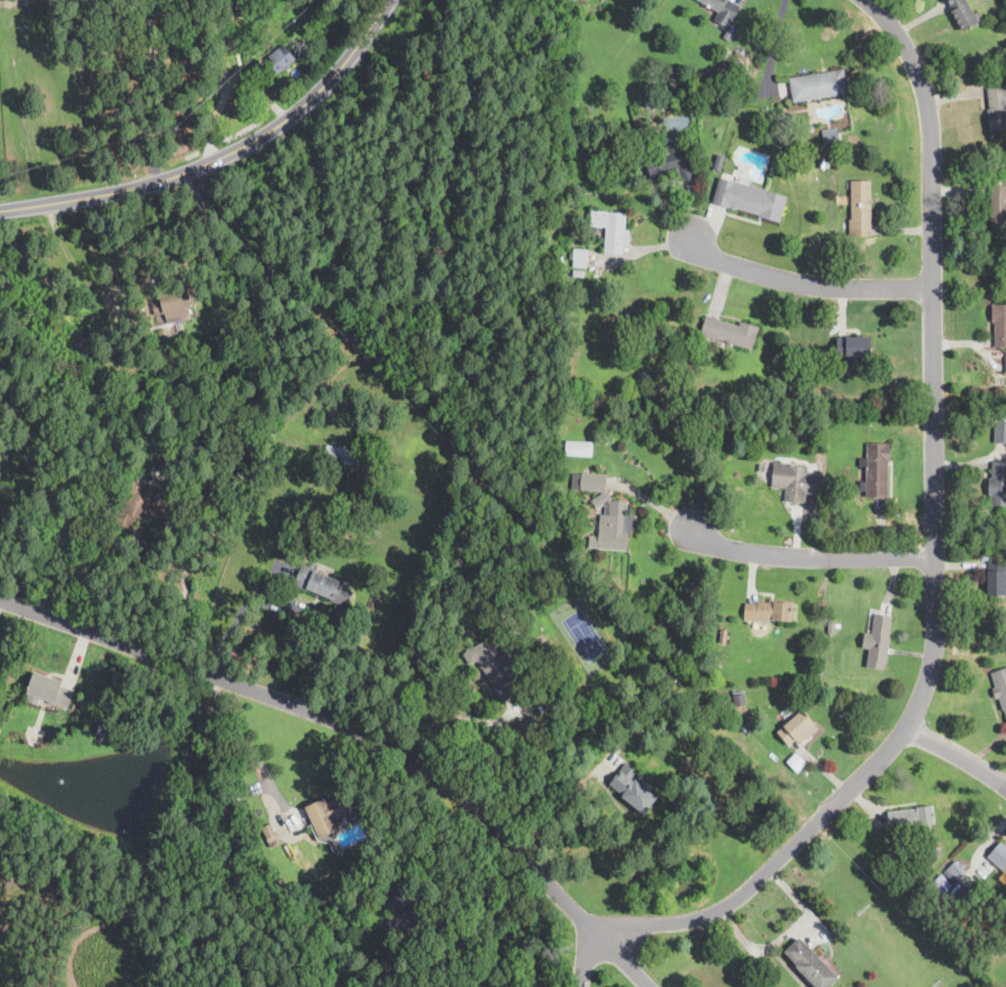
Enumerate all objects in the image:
building: (236, 0)
building: (723, 10)
building: (963, 13)
building: (230, 16)
road: (773, 44)
building: (999, 51)
building: (279, 61)
building: (709, 76)
road: (230, 81)
building: (819, 85)
road: (150, 91)
building: (997, 108)
building: (811, 128)
building: (830, 134)
road: (225, 156)
building: (669, 161)
building: (719, 161)
building: (747, 201)
building: (998, 207)
building: (860, 209)
building: (564, 223)
building: (611, 229)
building: (573, 239)
road: (65, 244)
building: (580, 257)
building: (559, 264)
building: (582, 274)
road: (805, 283)
building: (173, 305)
building: (138, 307)
building: (999, 324)
building: (729, 332)
building: (82, 335)
building: (854, 348)
building: (792, 375)
building: (1000, 428)
building: (579, 448)
building: (341, 454)
building: (760, 467)
building: (876, 470)
building: (97, 480)
building: (795, 480)
building: (998, 483)
building: (151, 505)
building: (606, 514)
building: (836, 523)
road: (938, 550)
road: (814, 559)
road: (74, 570)
building: (996, 578)
building: (323, 584)
building: (768, 611)
road: (231, 625)
building: (832, 628)
road: (342, 636)
building: (723, 636)
building: (878, 642)
building: (495, 668)
building: (1000, 687)
building: (48, 690)
building: (541, 702)
building: (726, 703)
road: (456, 714)
building: (102, 727)
building: (796, 727)
building: (525, 731)
road: (362, 732)
building: (549, 740)
road: (251, 751)
road: (958, 756)
building: (797, 760)
building: (633, 789)
road: (564, 804)
building: (327, 814)
building: (911, 816)
road: (166, 824)
building: (930, 855)
building: (999, 856)
building: (956, 871)
road: (481, 880)
building: (942, 885)
building: (411, 913)
road: (787, 933)
road: (590, 961)
building: (811, 964)

